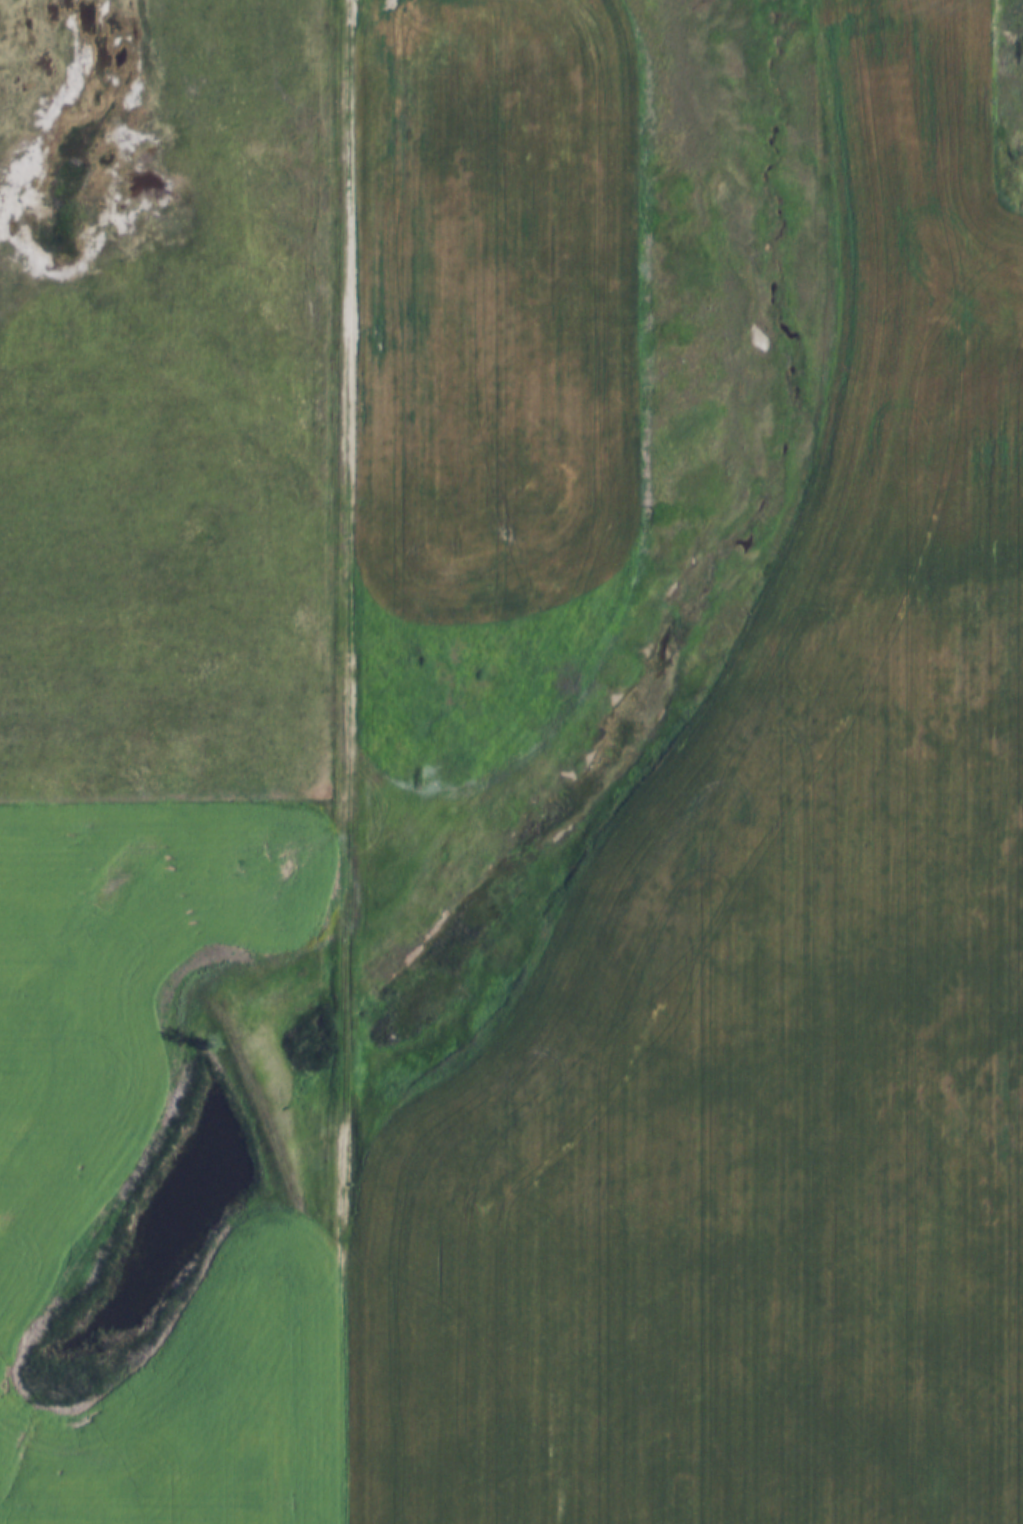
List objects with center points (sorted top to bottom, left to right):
road: (351, 761)

